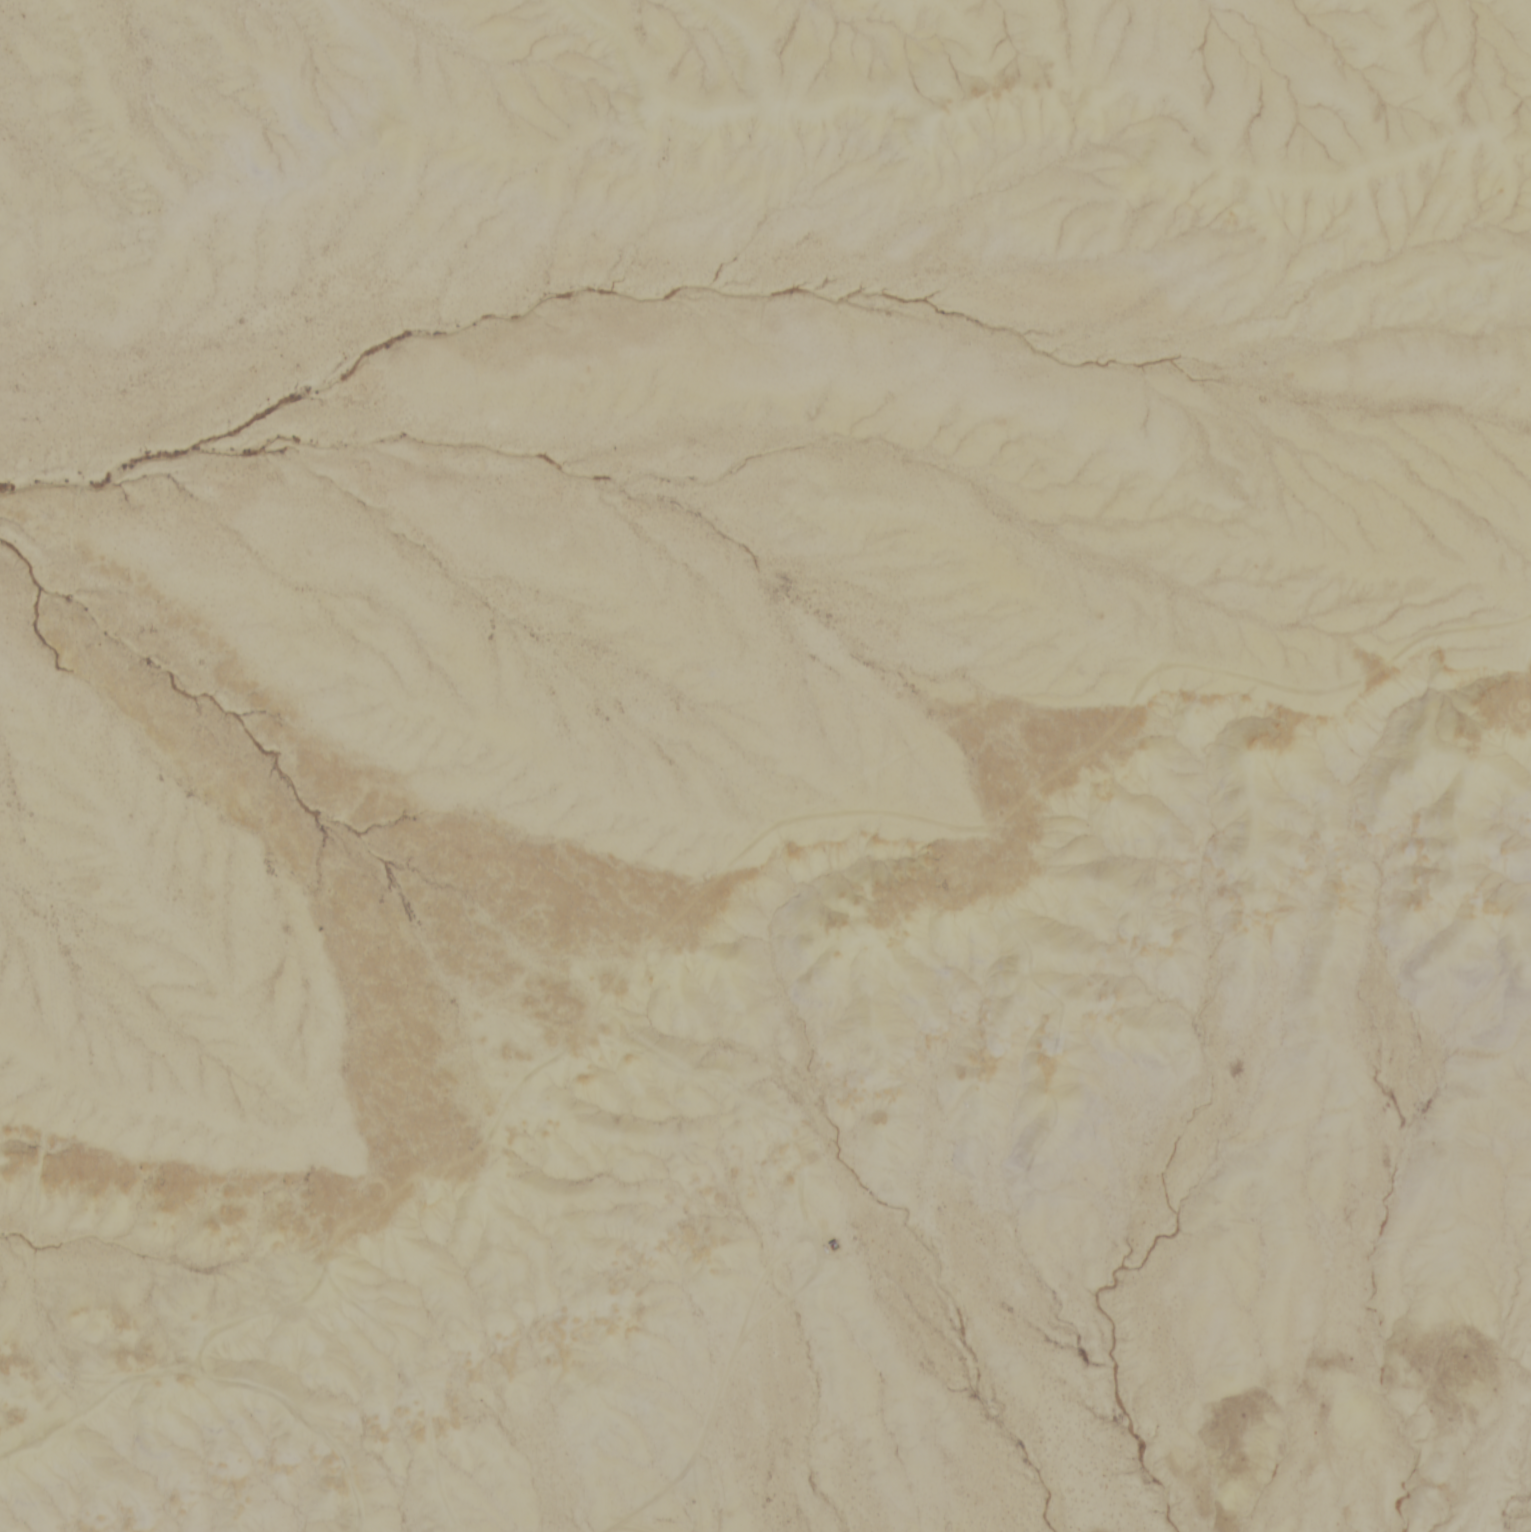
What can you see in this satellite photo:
road: (232, 1432)

